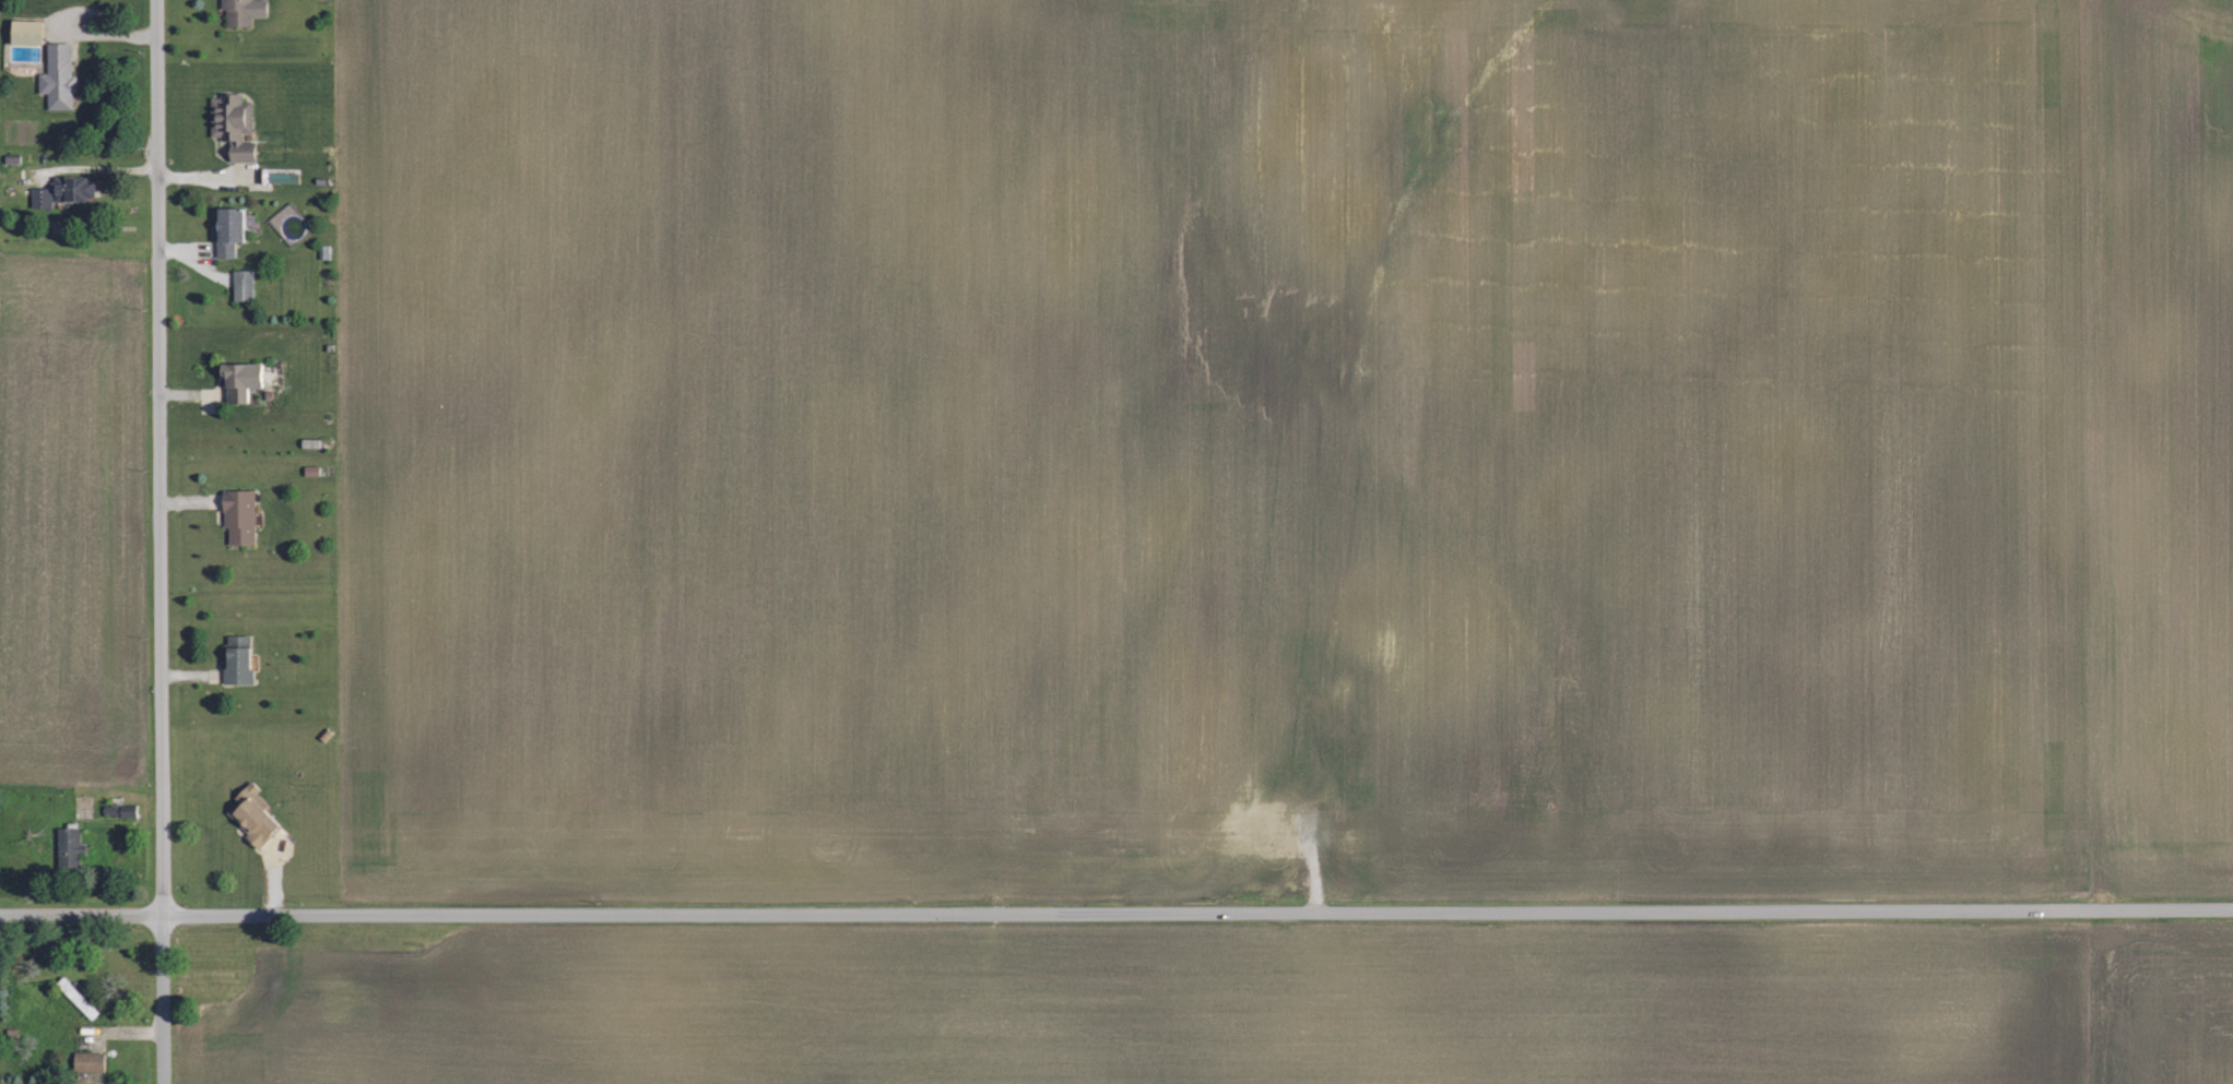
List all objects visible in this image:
building: (243, 11)
building: (26, 33)
building: (58, 78)
building: (233, 126)
building: (283, 178)
building: (74, 190)
building: (42, 198)
building: (228, 231)
building: (243, 285)
building: (240, 381)
building: (239, 516)
road: (161, 541)
building: (238, 662)
building: (121, 810)
building: (252, 817)
building: (70, 848)
road: (1116, 914)
building: (88, 1062)

